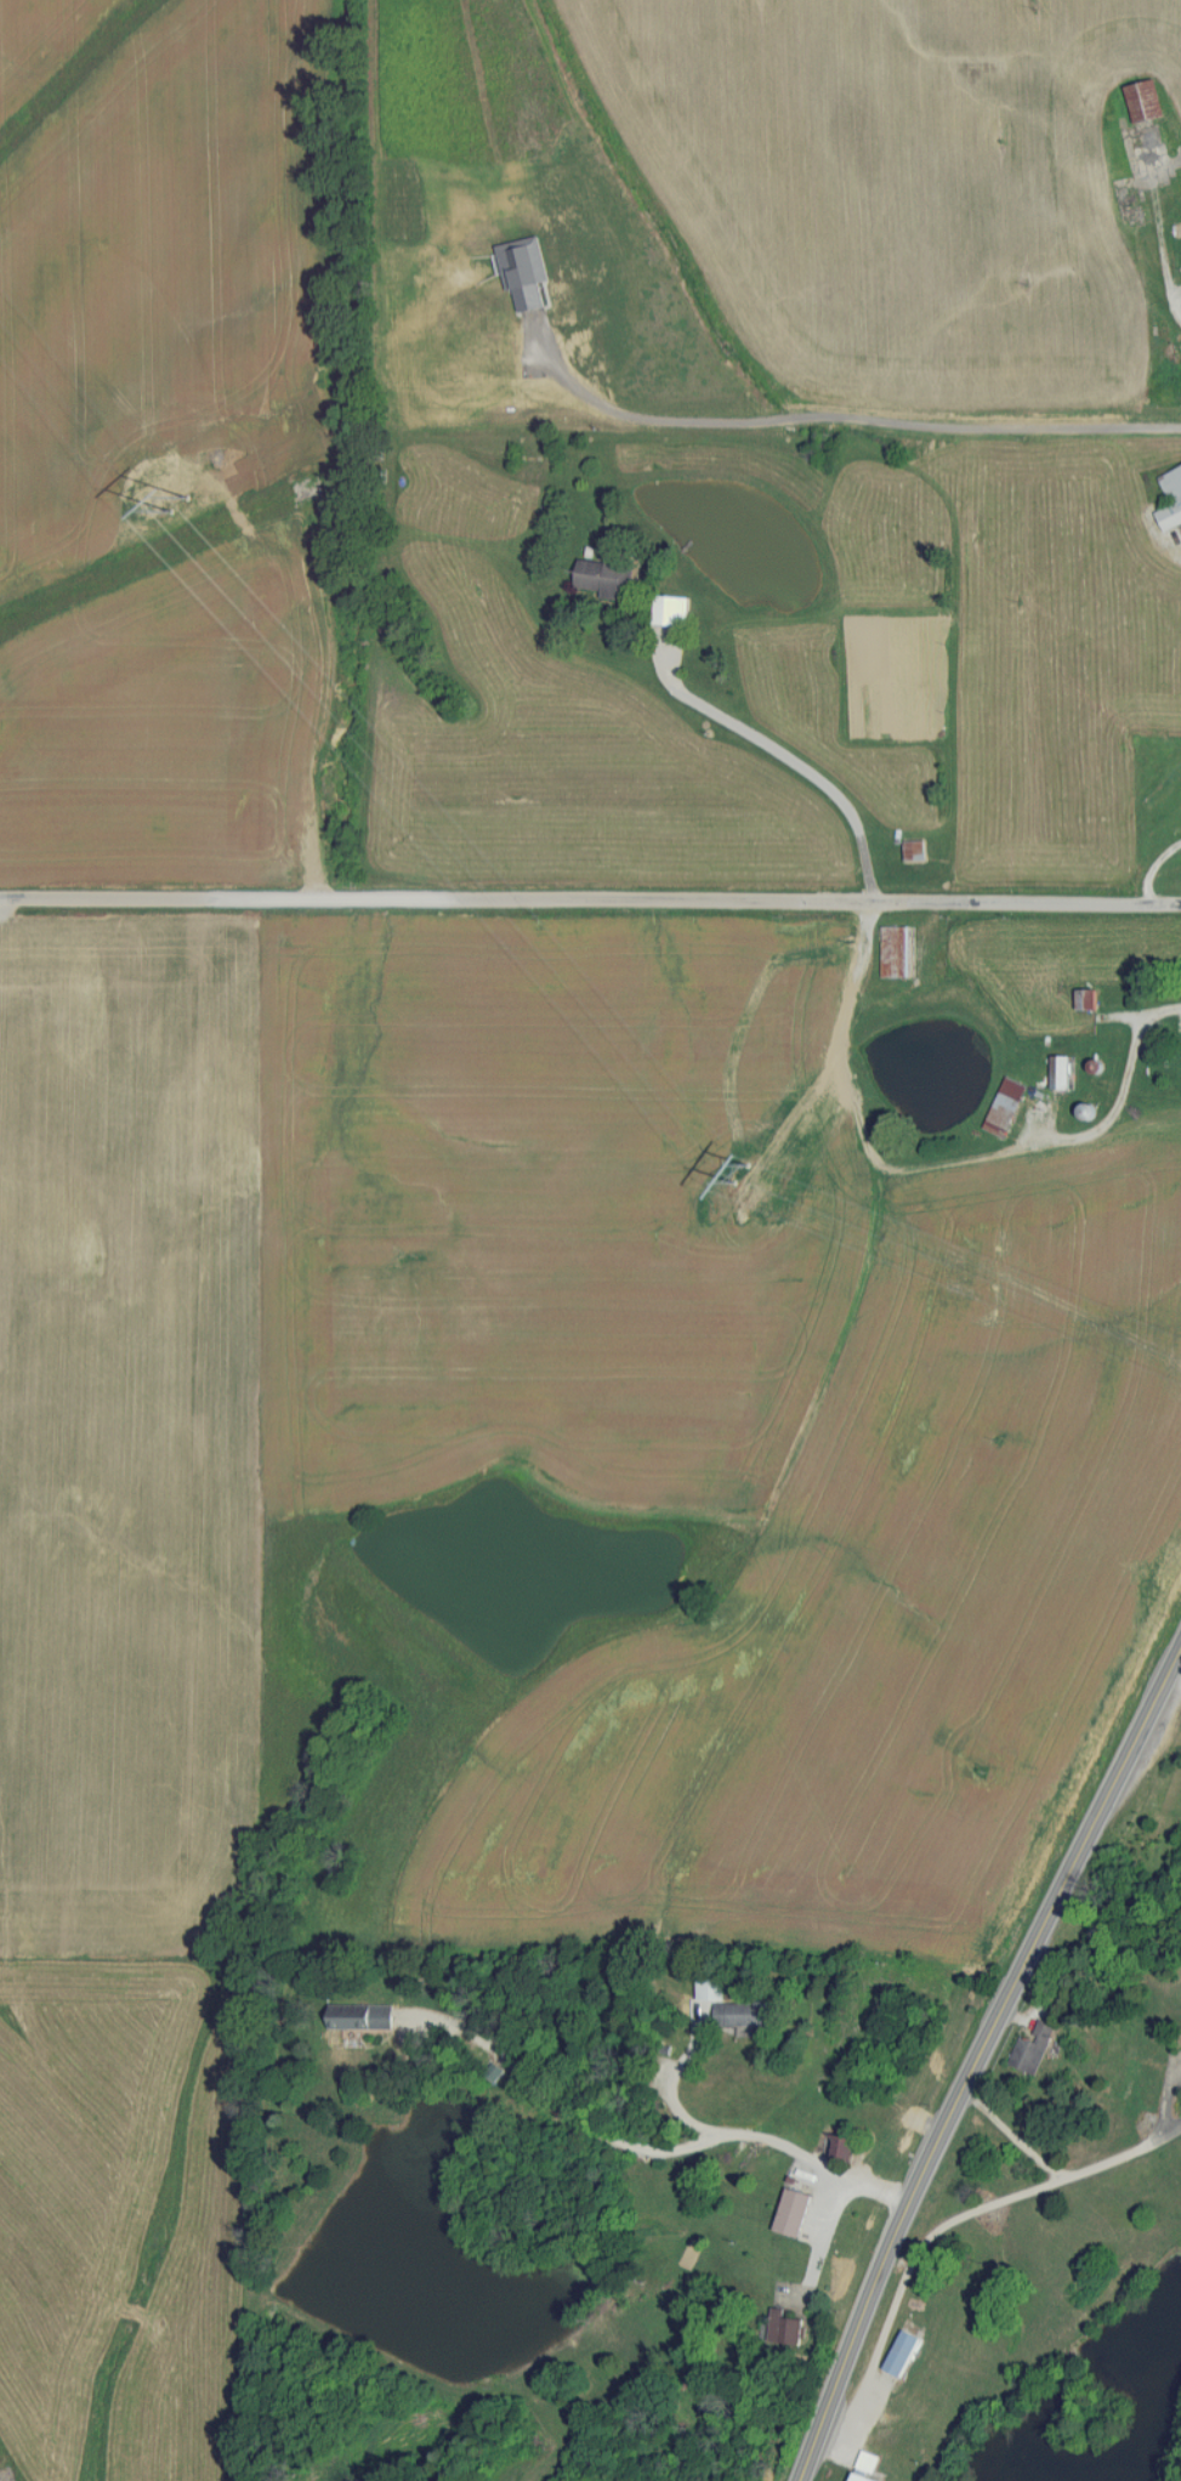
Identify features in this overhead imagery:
building: (1146, 100)
road: (854, 430)
building: (1170, 499)
power tower: (178, 509)
building: (606, 577)
building: (671, 611)
road: (800, 770)
building: (914, 850)
road: (590, 898)
building: (895, 950)
building: (1088, 999)
building: (1061, 1072)
road: (1124, 1091)
building: (1006, 1107)
power tower: (734, 1179)
road: (1179, 1662)
building: (732, 2005)
building: (364, 2015)
building: (1034, 2045)
road: (977, 2060)
building: (840, 2144)
road: (659, 2147)
building: (795, 2212)
building: (788, 2327)
building: (903, 2351)
building: (868, 2468)

